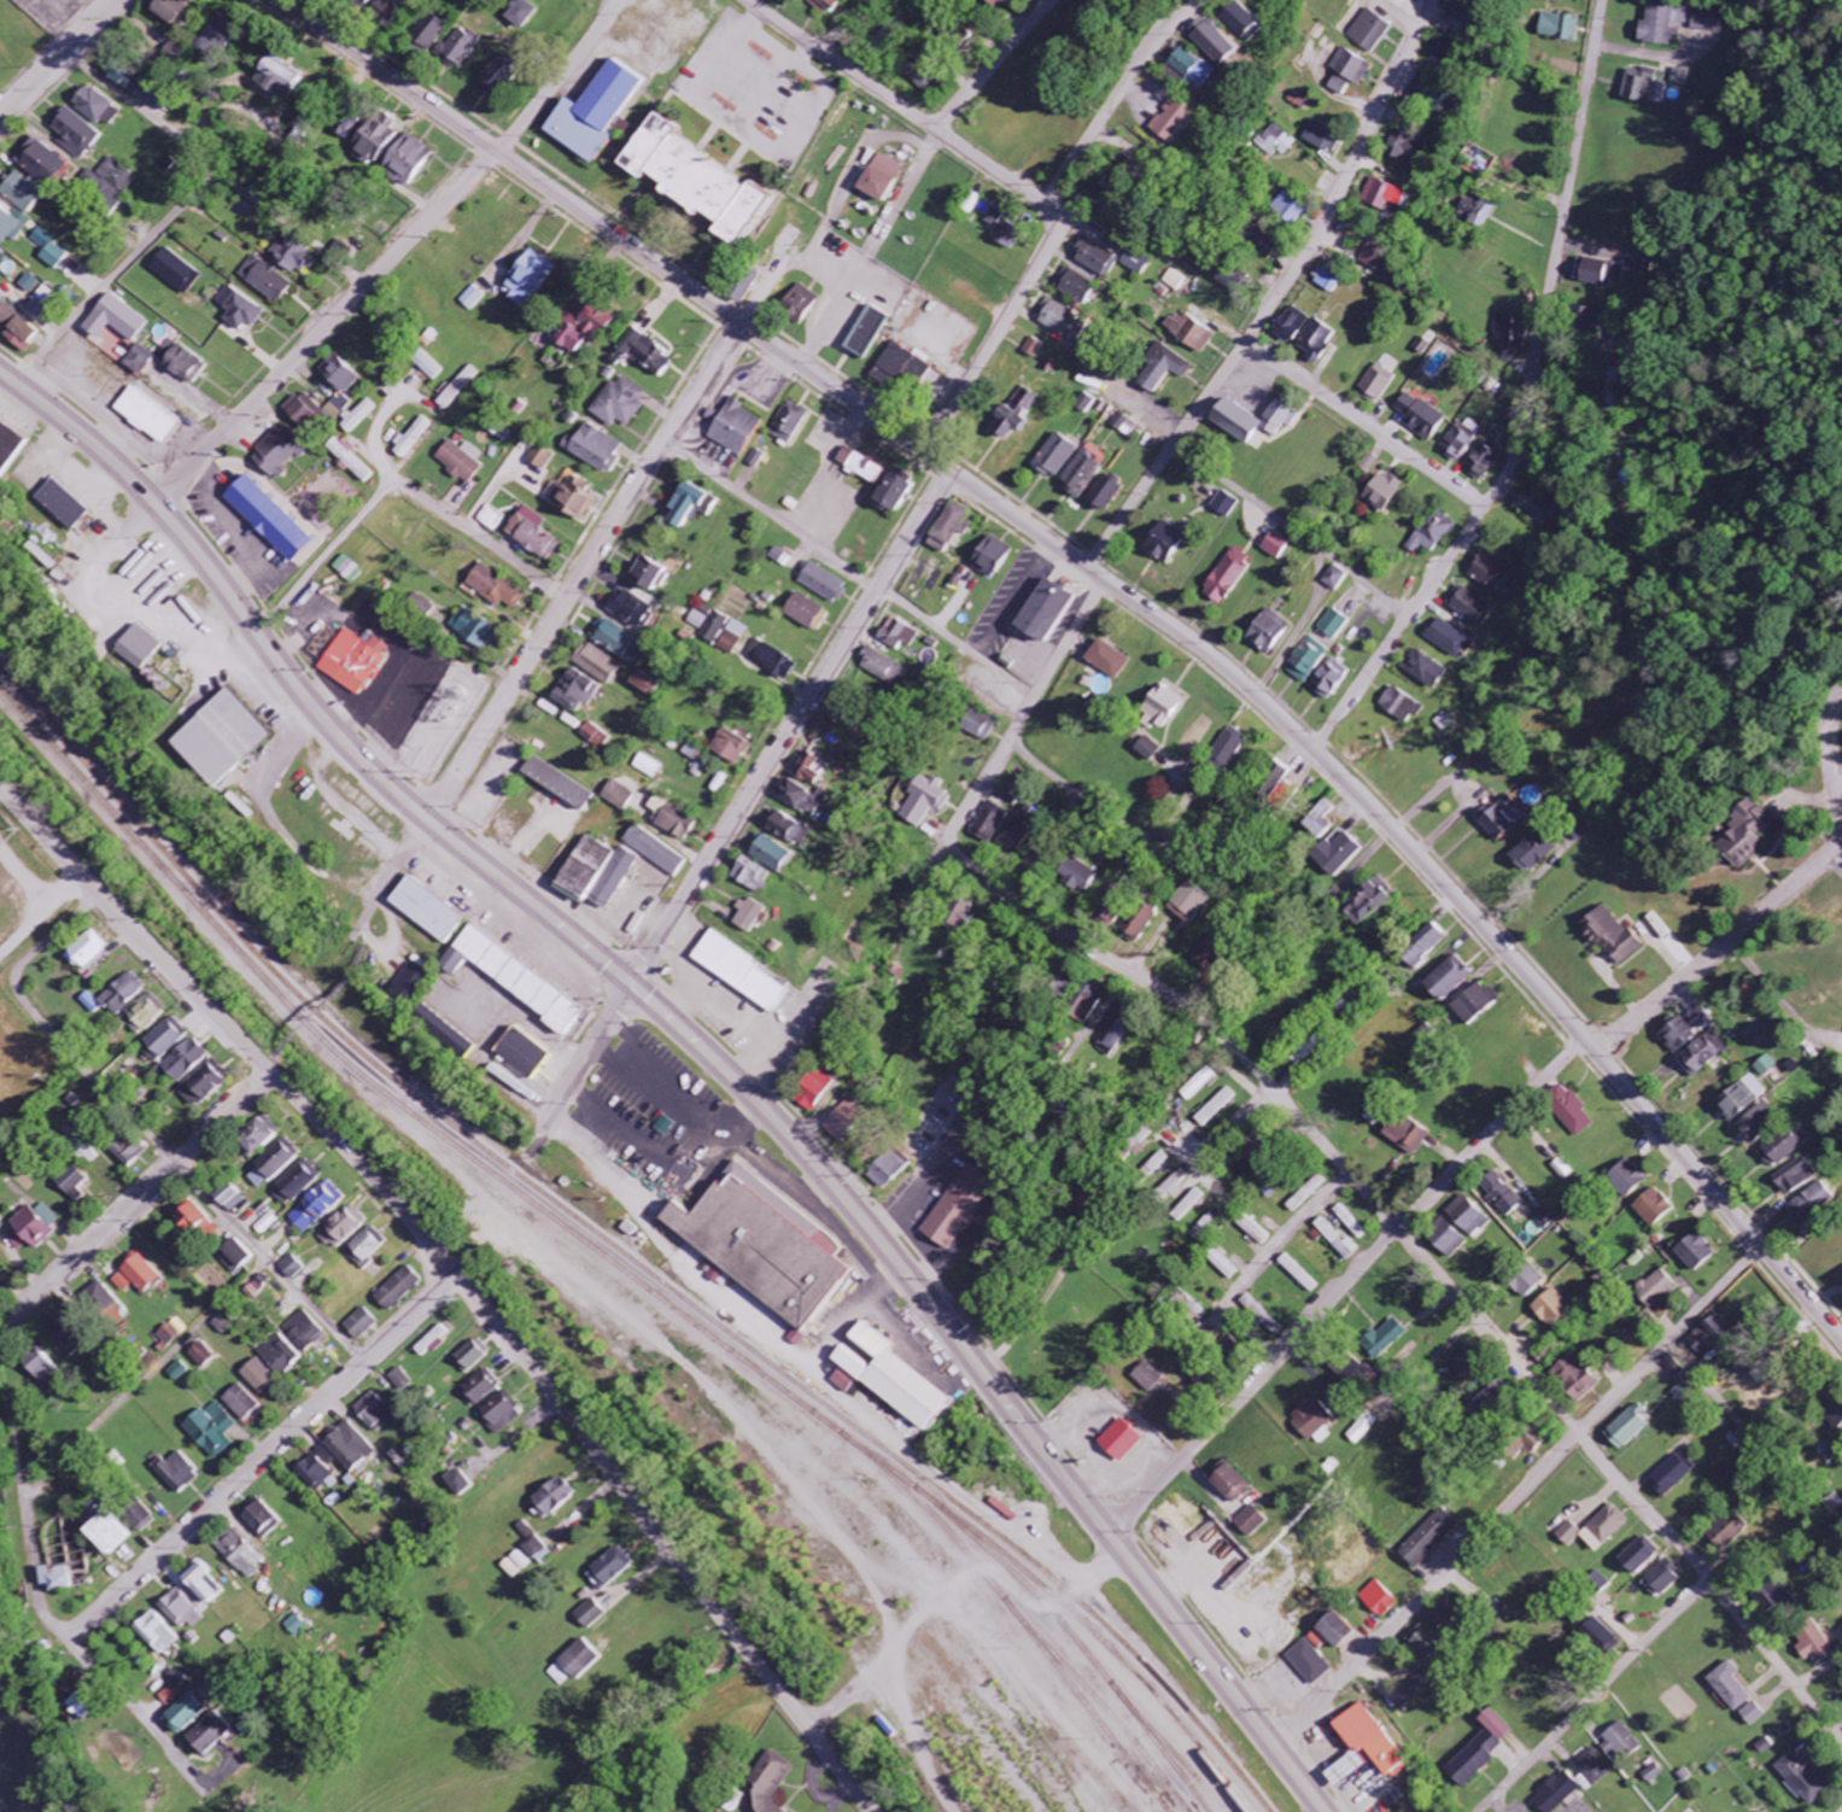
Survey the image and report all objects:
building: (1410, 0)
building: (367, 2)
building: (828, 4)
building: (998, 4)
building: (169, 10)
building: (1462, 13)
building: (521, 14)
road: (1400, 14)
building: (1234, 18)
building: (1708, 21)
building: (1665, 24)
building: (1559, 28)
building: (1369, 31)
building: (433, 33)
building: (217, 37)
building: (1207, 41)
building: (463, 47)
building: (1442, 48)
road: (62, 63)
road: (994, 64)
building: (1351, 66)
building: (1186, 69)
building: (274, 77)
building: (496, 77)
road: (561, 77)
building: (1679, 77)
building: (926, 83)
building: (1639, 86)
building: (1339, 87)
building: (1427, 92)
road: (900, 105)
building: (94, 107)
building: (1169, 121)
building: (346, 125)
building: (74, 134)
building: (1322, 136)
building: (1276, 141)
building: (1408, 150)
building: (390, 153)
road: (217, 173)
building: (31, 176)
building: (879, 179)
building: (691, 181)
building: (107, 187)
building: (1385, 197)
building: (1292, 209)
building: (1476, 211)
road: (1053, 218)
building: (12, 226)
road: (864, 245)
building: (1264, 246)
building: (49, 251)
building: (1376, 253)
building: (292, 256)
building: (1, 258)
building: (1095, 258)
building: (1135, 262)
building: (1638, 267)
building: (175, 271)
building: (1601, 273)
road: (112, 274)
building: (265, 280)
building: (527, 280)
building: (1331, 280)
building: (28, 284)
building: (1075, 286)
road: (1279, 296)
building: (472, 299)
building: (41, 303)
building: (800, 304)
building: (238, 309)
building: (1590, 318)
building: (111, 320)
building: (1060, 322)
building: (584, 325)
building: (1292, 326)
road: (327, 328)
building: (16, 329)
building: (865, 333)
building: (1189, 333)
building: (1509, 340)
building: (1317, 341)
building: (1031, 349)
building: (648, 355)
building: (139, 361)
building: (181, 363)
building: (426, 366)
building: (900, 368)
building: (1164, 370)
building: (339, 375)
building: (1376, 385)
building: (449, 398)
building: (343, 404)
building: (621, 404)
building: (1084, 404)
road: (1531, 404)
building: (305, 413)
building: (1013, 414)
building: (145, 415)
building: (1420, 417)
building: (1251, 420)
building: (789, 423)
road: (1366, 426)
building: (733, 427)
building: (1124, 427)
building: (411, 438)
building: (1460, 442)
building: (8, 449)
building: (597, 450)
building: (279, 454)
building: (1053, 457)
building: (542, 458)
building: (759, 460)
building: (1485, 460)
building: (350, 461)
building: (461, 461)
building: (1369, 464)
building: (859, 466)
building: (66, 473)
building: (1078, 477)
road: (399, 484)
building: (891, 491)
building: (1385, 492)
building: (1104, 496)
building: (574, 499)
road: (1310, 503)
building: (1539, 504)
building: (60, 505)
building: (1226, 505)
building: (685, 507)
building: (709, 507)
building: (267, 519)
building: (492, 520)
building: (947, 528)
building: (1434, 533)
building: (531, 537)
building: (1163, 543)
building: (1276, 546)
building: (778, 556)
building: (988, 559)
road: (852, 571)
road: (1650, 571)
building: (1490, 573)
building: (650, 575)
building: (1228, 578)
building: (1337, 578)
building: (821, 584)
building: (496, 589)
road: (1123, 595)
road: (1011, 598)
building: (1472, 607)
building: (630, 612)
building: (806, 613)
building: (1041, 613)
building: (1335, 625)
road: (551, 627)
building: (474, 631)
building: (720, 631)
building: (1268, 632)
building: (895, 636)
building: (1450, 639)
building: (620, 643)
building: (139, 648)
building: (1309, 660)
building: (771, 661)
building: (1105, 661)
building: (353, 662)
building: (597, 664)
building: (879, 668)
building: (1426, 671)
building: (1331, 680)
building: (644, 684)
building: (577, 692)
road: (1037, 692)
building: (1400, 707)
building: (1157, 709)
building: (977, 726)
building: (596, 736)
building: (220, 741)
building: (730, 748)
building: (1146, 749)
building: (690, 752)
building: (1223, 754)
building: (648, 767)
building: (698, 770)
building: (811, 770)
building: (1275, 779)
building: (557, 784)
building: (801, 799)
building: (925, 801)
road: (736, 818)
building: (1504, 818)
building: (672, 820)
building: (1321, 822)
building: (988, 824)
road: (960, 825)
building: (1019, 828)
building: (788, 830)
building: (1750, 837)
building: (654, 852)
road: (1838, 853)
building: (1339, 854)
building: (1534, 854)
building: (771, 855)
road: (938, 861)
building: (601, 871)
building: (752, 876)
road: (926, 876)
building: (1076, 876)
building: (1370, 902)
road: (1776, 904)
building: (1188, 905)
building: (426, 911)
building: (750, 917)
building: (961, 917)
building: (1138, 925)
building: (1615, 935)
building: (1426, 947)
building: (89, 952)
building: (741, 971)
building: (511, 980)
building: (1449, 981)
building: (407, 986)
building: (119, 996)
building: (1476, 1005)
building: (1082, 1007)
building: (147, 1016)
building: (1701, 1018)
building: (1112, 1033)
building: (444, 1035)
building: (1677, 1035)
building: (168, 1041)
road: (706, 1050)
building: (1310, 1052)
building: (1708, 1053)
building: (522, 1054)
building: (188, 1062)
building: (1768, 1066)
building: (1755, 1083)
building: (1199, 1086)
building: (206, 1087)
building: (813, 1089)
building: (1738, 1104)
building: (1217, 1107)
building: (1571, 1110)
building: (846, 1118)
building: (1758, 1123)
road: (147, 1128)
building: (1407, 1135)
building: (257, 1139)
building: (1255, 1147)
building: (1788, 1148)
building: (131, 1151)
building: (90, 1156)
building: (275, 1165)
building: (889, 1169)
building: (1565, 1170)
building: (1797, 1179)
building: (1628, 1180)
building: (298, 1183)
building: (74, 1185)
building: (1175, 1186)
building: (1306, 1194)
building: (1504, 1194)
building: (232, 1200)
road: (135, 1204)
building: (1813, 1204)
building: (1189, 1206)
building: (317, 1208)
building: (959, 1208)
building: (1655, 1209)
building: (1470, 1218)
building: (1546, 1220)
building: (1350, 1223)
building: (1, 1226)
building: (34, 1228)
railway: (501, 1228)
building: (1205, 1228)
building: (341, 1229)
building: (1253, 1231)
building: (1338, 1241)
building: (1449, 1241)
building: (367, 1247)
building: (764, 1249)
building: (1696, 1253)
building: (236, 1256)
road: (1427, 1257)
road: (1264, 1262)
building: (1224, 1266)
building: (294, 1268)
building: (1298, 1275)
road: (460, 1278)
building: (1530, 1281)
road: (1346, 1285)
building: (397, 1291)
building: (1657, 1291)
building: (98, 1303)
building: (1552, 1309)
building: (1259, 1316)
building: (359, 1326)
building: (305, 1333)
building: (1385, 1342)
building: (1709, 1342)
building: (429, 1343)
building: (203, 1356)
building: (469, 1356)
building: (281, 1357)
building: (179, 1372)
road: (146, 1375)
building: (258, 1378)
building: (1148, 1378)
building: (1575, 1378)
building: (891, 1379)
building: (399, 1380)
building: (479, 1389)
building: (1683, 1392)
building: (1493, 1393)
building: (241, 1403)
building: (372, 1414)
building: (499, 1416)
road: (1509, 1418)
building: (1312, 1422)
building: (1361, 1427)
building: (1630, 1427)
building: (211, 1431)
railway: (849, 1434)
building: (1119, 1440)
building: (1527, 1443)
road: (263, 1456)
building: (334, 1457)
building: (176, 1472)
building: (1672, 1477)
building: (457, 1483)
building: (1229, 1483)
road: (1520, 1497)
building: (551, 1498)
building: (136, 1515)
building: (257, 1516)
building: (1252, 1522)
building: (1597, 1530)
building: (105, 1535)
building: (1725, 1535)
building: (1429, 1538)
building: (239, 1554)
building: (1637, 1557)
building: (609, 1568)
building: (58, 1580)
building: (1665, 1580)
building: (197, 1585)
building: (1777, 1596)
building: (1376, 1600)
building: (179, 1611)
building: (589, 1614)
building: (1445, 1620)
building: (1332, 1629)
building: (154, 1633)
railway: (1017, 1635)
building: (1600, 1636)
building: (1422, 1642)
road: (74, 1643)
building: (1815, 1644)
building: (1308, 1662)
building: (572, 1664)
building: (1415, 1685)
building: (1730, 1687)
road: (1597, 1695)
building: (170, 1697)
building: (182, 1714)
building: (1754, 1714)
building: (206, 1734)
building: (1624, 1741)
building: (1363, 1746)
building: (1480, 1748)
building: (1595, 1767)
building: (1654, 1775)
building: (1806, 1779)
building: (767, 1783)
building: (1557, 1793)

